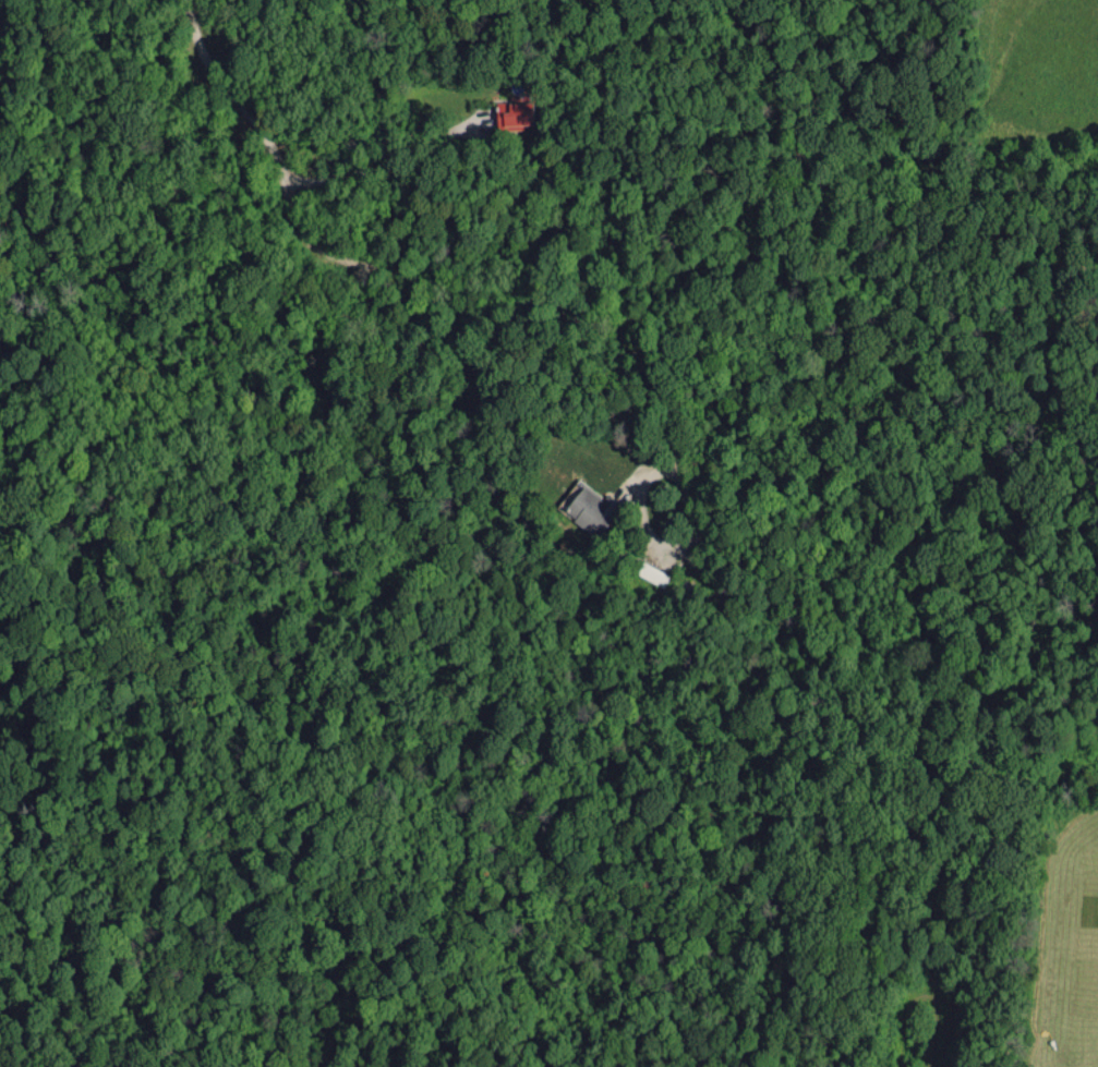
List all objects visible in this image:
building: (515, 114)
road: (384, 157)
road: (407, 269)
building: (592, 509)

